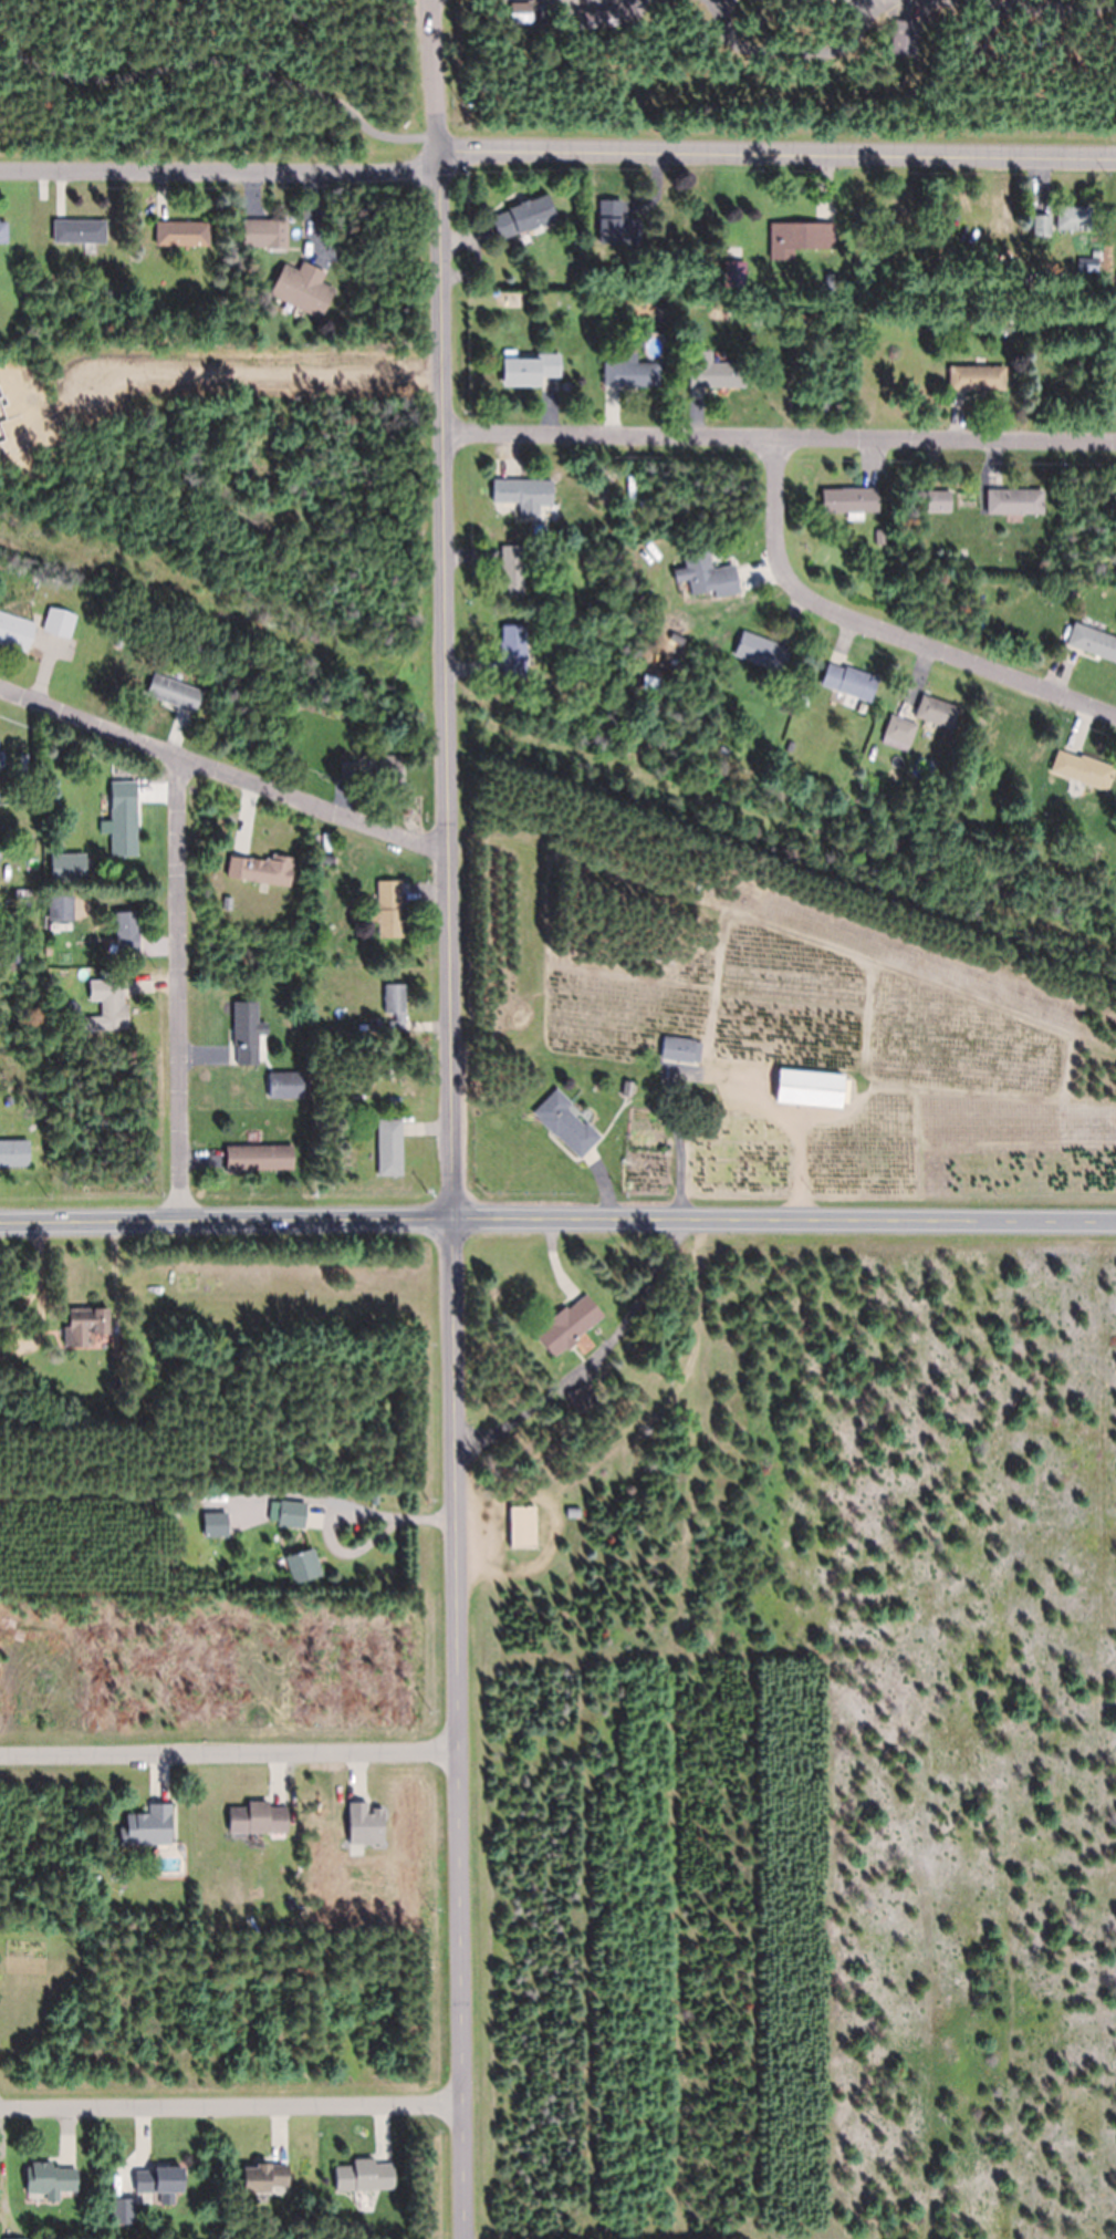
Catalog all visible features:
road: (1023, 10)
building: (520, 11)
road: (332, 19)
building: (904, 37)
road: (230, 53)
road: (790, 54)
park: (541, 74)
road: (439, 76)
road: (779, 155)
road: (222, 173)
building: (523, 216)
building: (1073, 217)
building: (616, 224)
building: (1042, 225)
building: (79, 230)
building: (3, 231)
building: (253, 231)
building: (181, 232)
building: (802, 235)
building: (1095, 252)
building: (302, 288)
building: (1013, 315)
building: (529, 367)
building: (712, 371)
building: (630, 372)
building: (977, 376)
road: (784, 438)
building: (523, 494)
building: (849, 499)
building: (939, 499)
building: (1014, 500)
building: (879, 536)
building: (708, 569)
building: (512, 570)
building: (1070, 595)
building: (590, 605)
building: (60, 621)
road: (880, 628)
building: (14, 631)
building: (572, 631)
building: (1092, 641)
building: (668, 644)
building: (513, 650)
building: (762, 651)
building: (678, 653)
building: (849, 681)
building: (174, 692)
building: (936, 711)
building: (674, 722)
building: (899, 728)
building: (52, 740)
building: (722, 756)
road: (229, 760)
building: (347, 770)
building: (1088, 770)
building: (390, 773)
building: (1021, 809)
building: (123, 818)
building: (0, 850)
building: (327, 860)
building: (260, 870)
building: (54, 908)
building: (387, 908)
building: (124, 933)
building: (33, 953)
road: (184, 982)
building: (112, 1003)
building: (395, 1004)
building: (374, 1024)
building: (247, 1034)
building: (680, 1048)
crop: (826, 1051)
building: (285, 1086)
building: (812, 1087)
building: (7, 1099)
building: (565, 1122)
building: (237, 1140)
building: (389, 1147)
building: (13, 1152)
building: (258, 1158)
road: (452, 1195)
road: (557, 1215)
building: (87, 1323)
building: (569, 1324)
building: (1, 1328)
building: (116, 1347)
building: (59, 1357)
building: (32, 1372)
building: (582, 1398)
building: (205, 1494)
building: (332, 1500)
building: (292, 1513)
building: (522, 1525)
building: (672, 1528)
building: (303, 1565)
road: (228, 1753)
building: (258, 1818)
building: (365, 1825)
building: (149, 1826)
road: (230, 2106)
building: (365, 2176)
building: (264, 2177)
building: (51, 2180)
building: (159, 2183)

